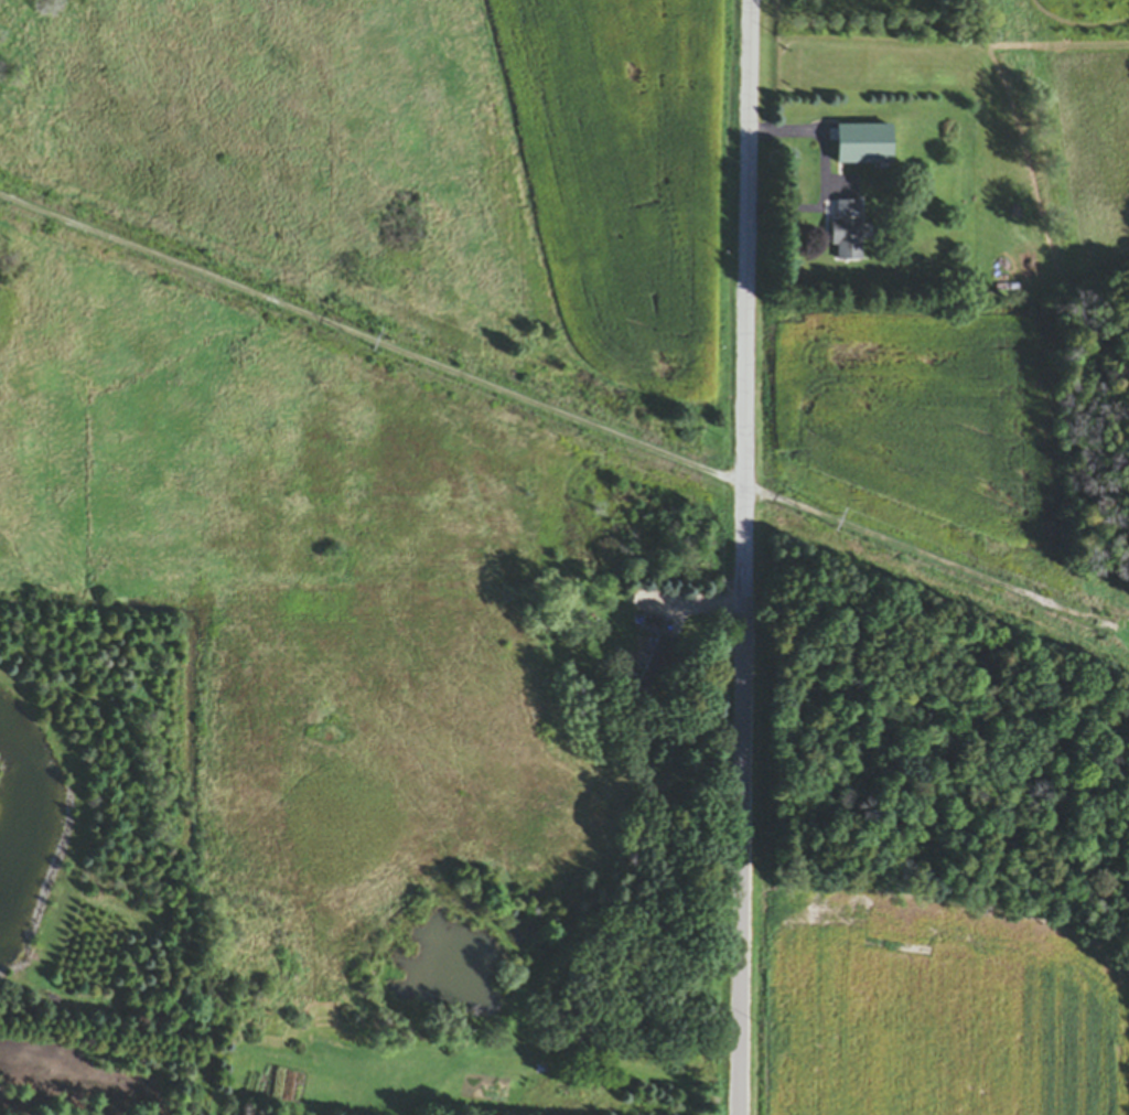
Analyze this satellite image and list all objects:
building: (865, 147)
road: (826, 174)
building: (848, 233)
power tower: (380, 346)
power tower: (843, 525)
road: (743, 557)
building: (652, 626)
building: (658, 666)
crop: (940, 1016)

